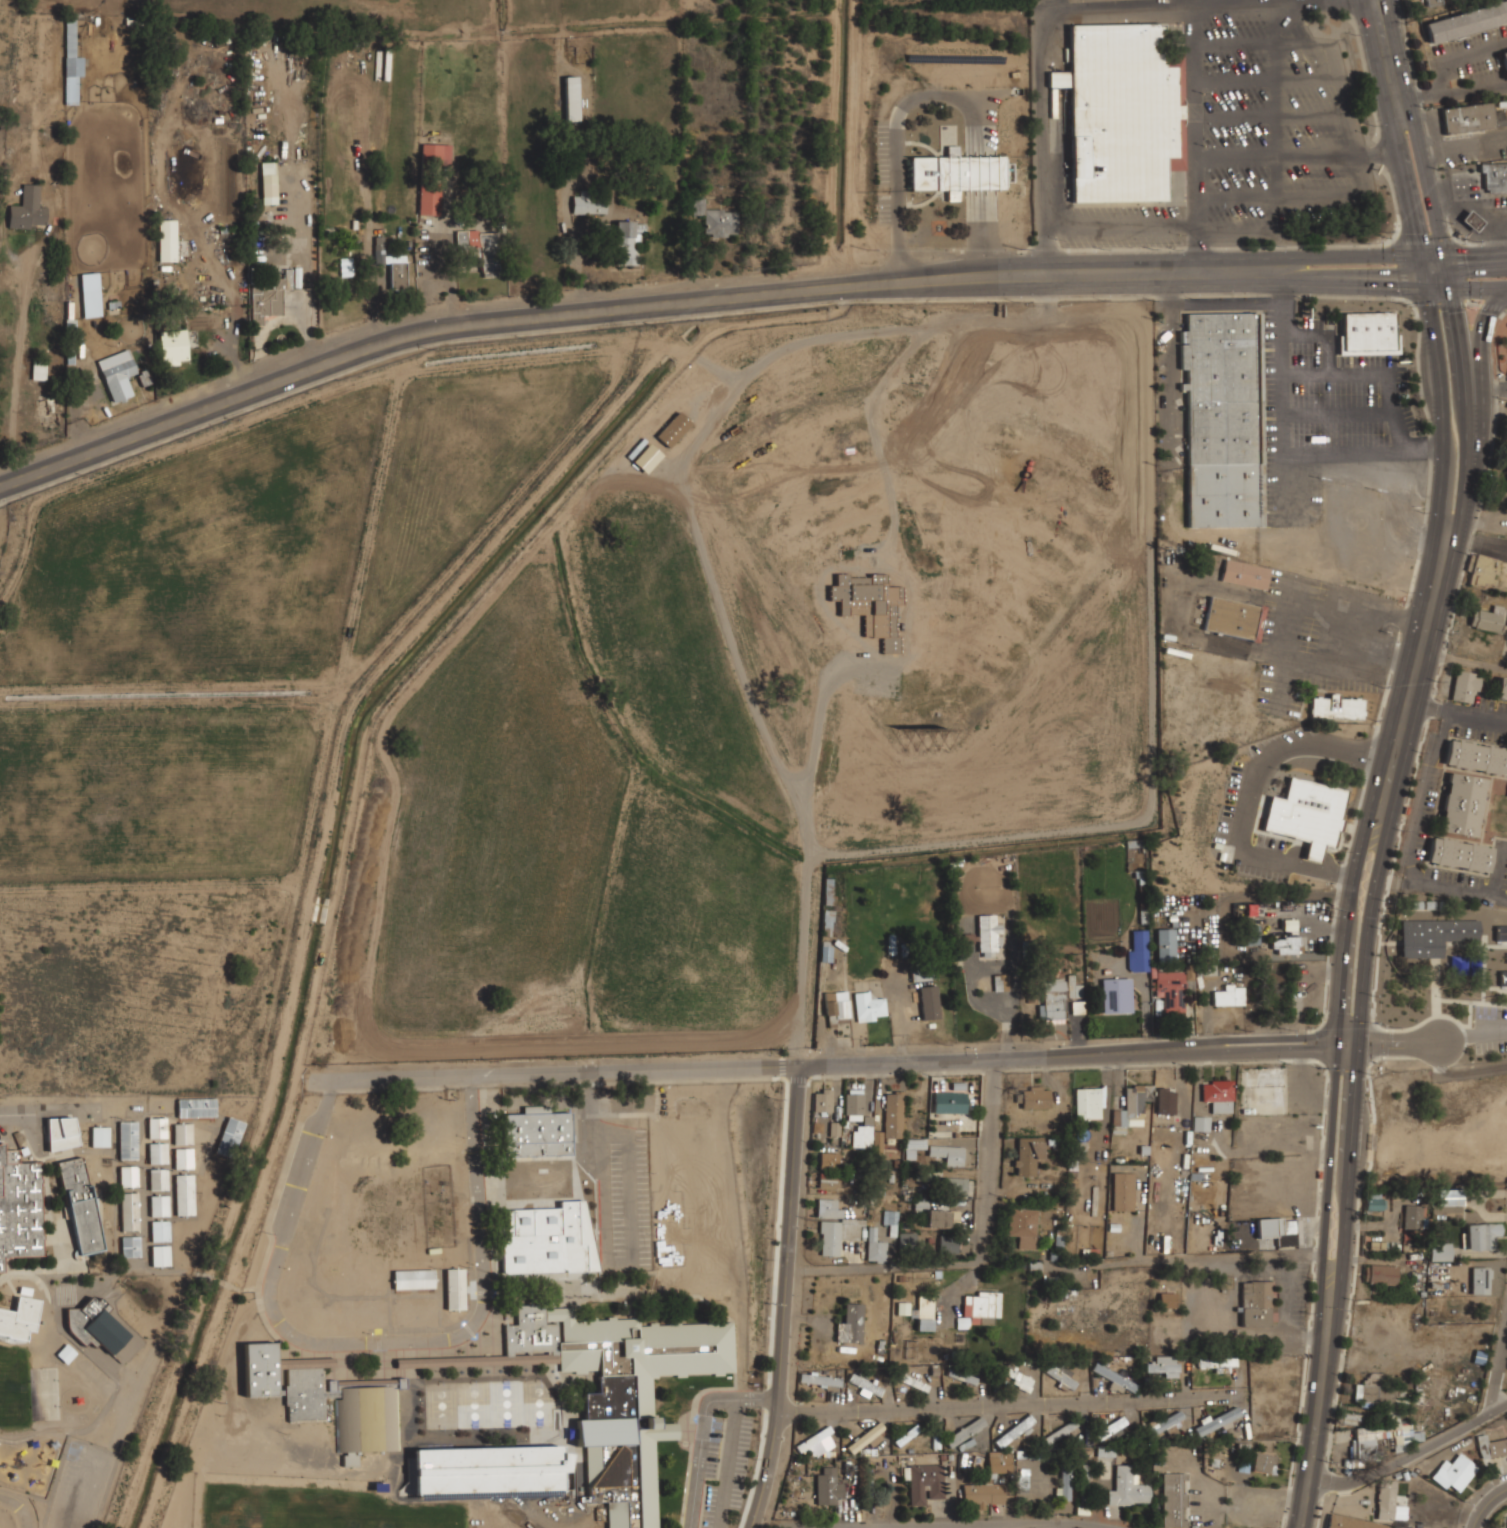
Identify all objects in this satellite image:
road: (1374, 4)
road: (1377, 4)
building: (1466, 22)
road: (1197, 48)
building: (70, 49)
road: (1389, 59)
building: (1504, 59)
road: (1442, 68)
road: (1475, 87)
building: (571, 97)
building: (1120, 115)
building: (1472, 117)
building: (432, 152)
building: (959, 174)
building: (1494, 177)
building: (269, 182)
road: (1404, 182)
road: (1431, 195)
flagpole: (947, 199)
gas station: (1476, 199)
building: (428, 200)
building: (589, 203)
building: (28, 208)
road: (1479, 210)
building: (715, 217)
building: (1471, 220)
building: (941, 227)
building: (167, 239)
road: (1423, 240)
building: (626, 241)
building: (480, 247)
road: (1475, 252)
traffic signals: (1419, 255)
road: (1431, 255)
traffic signals: (1443, 255)
road: (1342, 256)
building: (395, 268)
road: (1422, 270)
road: (1400, 271)
road: (1462, 272)
building: (297, 277)
road: (1356, 284)
traffic signals: (1425, 286)
traffic signals: (1448, 286)
road: (1477, 287)
building: (267, 298)
road: (1440, 303)
road: (620, 310)
building: (1368, 334)
building: (172, 345)
road: (19, 362)
building: (986, 362)
road: (900, 364)
building: (38, 369)
building: (117, 374)
road: (1308, 374)
road: (1361, 374)
road: (1463, 387)
road: (1482, 388)
road: (1337, 411)
building: (916, 418)
building: (1223, 419)
road: (1286, 437)
road: (1442, 454)
road: (1449, 481)
crop: (1010, 507)
road: (1483, 523)
road: (1479, 545)
street lamp: (1469, 554)
road: (1454, 559)
building: (1484, 570)
building: (1245, 574)
building: (873, 605)
building: (1233, 618)
building: (1486, 619)
road: (1284, 630)
building: (1464, 686)
building: (1502, 689)
building: (1336, 707)
road: (1457, 711)
road: (1405, 715)
building: (1476, 757)
road: (1253, 796)
road: (1423, 796)
building: (1462, 805)
building: (1306, 814)
building: (1460, 854)
road: (1442, 890)
building: (1501, 933)
building: (1253, 934)
building: (987, 936)
building: (1434, 936)
building: (1165, 944)
building: (1287, 944)
building: (1138, 952)
building: (825, 954)
building: (923, 974)
building: (1503, 978)
building: (1000, 982)
building: (1073, 987)
building: (1168, 992)
building: (1116, 995)
building: (1229, 996)
building: (1052, 1001)
building: (929, 1002)
building: (868, 1007)
building: (836, 1008)
road: (1471, 1035)
traffic signals: (1336, 1036)
road: (1275, 1037)
road: (1397, 1044)
traffic signals: (1357, 1045)
road: (1275, 1053)
traffic signals: (1335, 1053)
road: (762, 1062)
building: (1218, 1096)
building: (1033, 1098)
building: (822, 1100)
building: (1165, 1100)
building: (949, 1101)
building: (1088, 1102)
building: (1132, 1103)
building: (196, 1106)
building: (854, 1106)
road: (69, 1111)
building: (893, 1114)
building: (1200, 1123)
building: (156, 1126)
building: (816, 1127)
building: (834, 1129)
building: (61, 1132)
building: (183, 1134)
building: (100, 1136)
building: (229, 1136)
building: (861, 1136)
building: (127, 1139)
building: (877, 1142)
building: (913, 1147)
building: (158, 1152)
building: (948, 1153)
building: (1027, 1155)
building: (184, 1157)
building: (828, 1159)
road: (1328, 1164)
road: (1348, 1167)
building: (128, 1175)
building: (159, 1177)
building: (831, 1182)
building: (955, 1185)
building: (532, 1187)
building: (1123, 1191)
building: (184, 1194)
building: (1448, 1197)
parking lot: (629, 1199)
building: (79, 1205)
building: (159, 1205)
building: (19, 1206)
building: (129, 1210)
building: (693, 1212)
building: (1413, 1216)
building: (942, 1218)
building: (891, 1220)
building: (835, 1225)
building: (1022, 1226)
building: (577, 1227)
building: (159, 1230)
building: (1481, 1236)
building: (907, 1239)
building: (130, 1246)
building: (874, 1246)
building: (948, 1247)
building: (1440, 1251)
building: (160, 1255)
road: (989, 1258)
road: (605, 1260)
building: (1380, 1274)
building: (413, 1278)
building: (1480, 1280)
building: (455, 1288)
road: (787, 1295)
building: (1168, 1299)
building: (1257, 1303)
building: (903, 1308)
building: (979, 1309)
building: (923, 1313)
building: (19, 1318)
building: (94, 1324)
building: (850, 1324)
road: (374, 1340)
building: (1217, 1363)
building: (1163, 1365)
road: (1497, 1367)
building: (1060, 1374)
building: (962, 1375)
building: (1113, 1377)
building: (1017, 1378)
building: (819, 1379)
building: (911, 1382)
park: (13, 1385)
park: (44, 1392)
building: (622, 1392)
building: (1365, 1392)
building: (366, 1401)
park: (490, 1403)
road: (1009, 1405)
building: (1217, 1420)
building: (1164, 1424)
building: (1111, 1429)
road: (707, 1430)
building: (1013, 1431)
building: (964, 1432)
building: (1382, 1435)
building: (865, 1437)
building: (816, 1443)
building: (1497, 1446)
building: (1105, 1452)
road: (1406, 1455)
building: (998, 1462)
building: (1264, 1463)
building: (1084, 1473)
building: (1455, 1473)
building: (924, 1482)
building: (1065, 1484)
building: (828, 1487)
building: (1128, 1487)
building: (982, 1493)
building: (1386, 1499)
building: (1174, 1500)
road: (1486, 1504)
road: (21, 1506)
parking lot: (73, 1517)
building: (1350, 1522)
road: (74, 1524)
road: (954, 1524)

